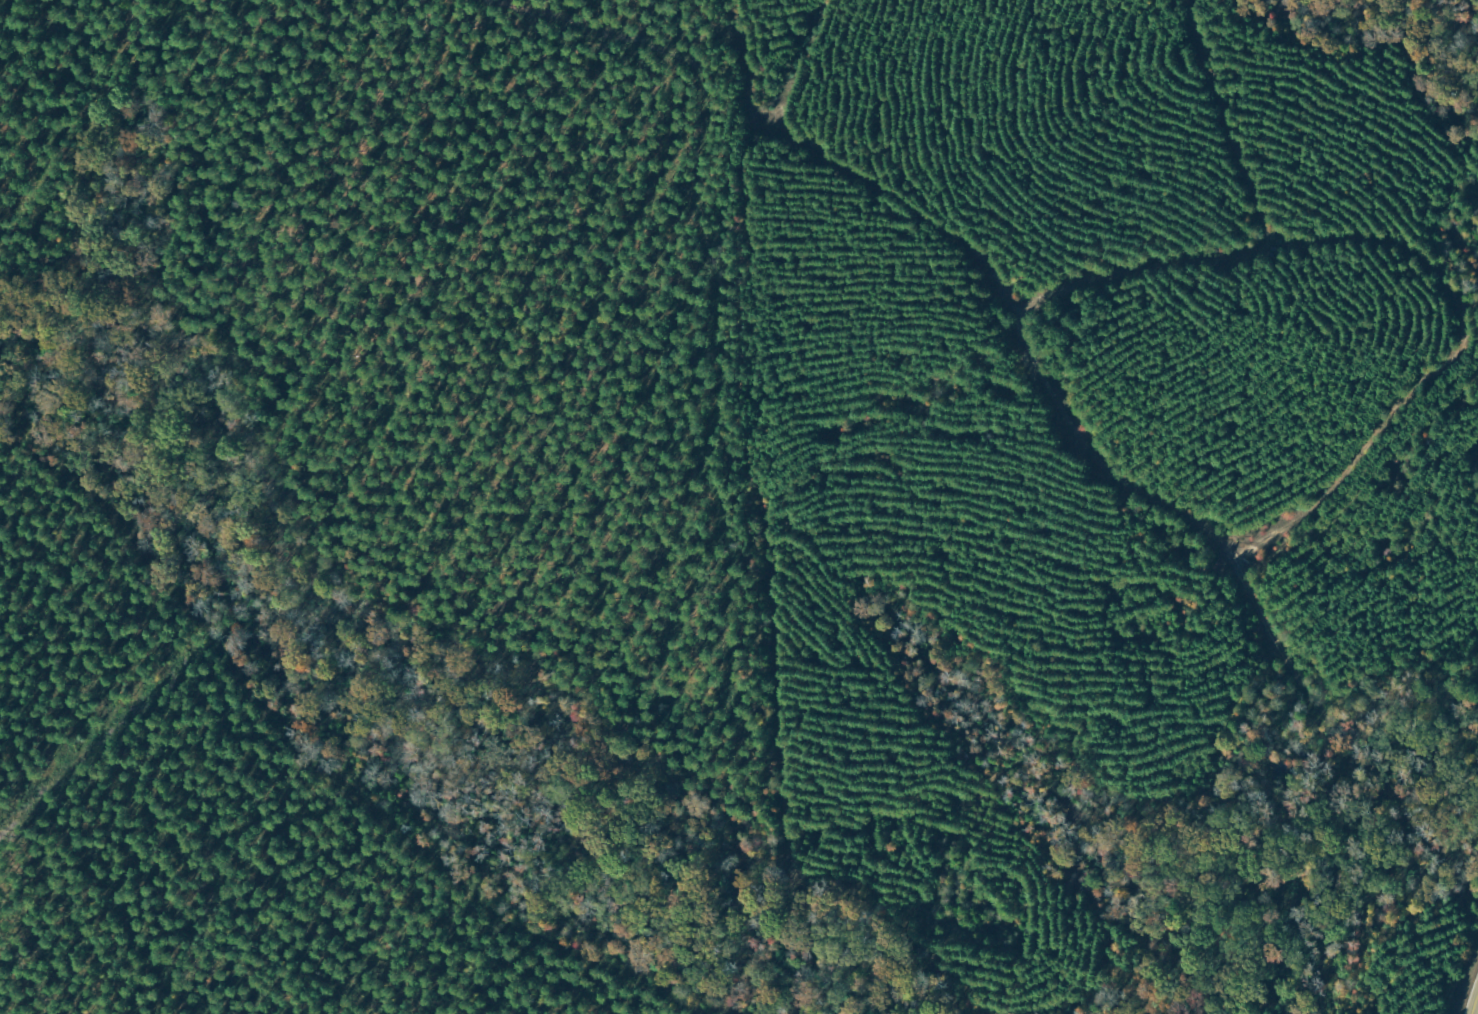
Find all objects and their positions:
road: (1477, 1012)

